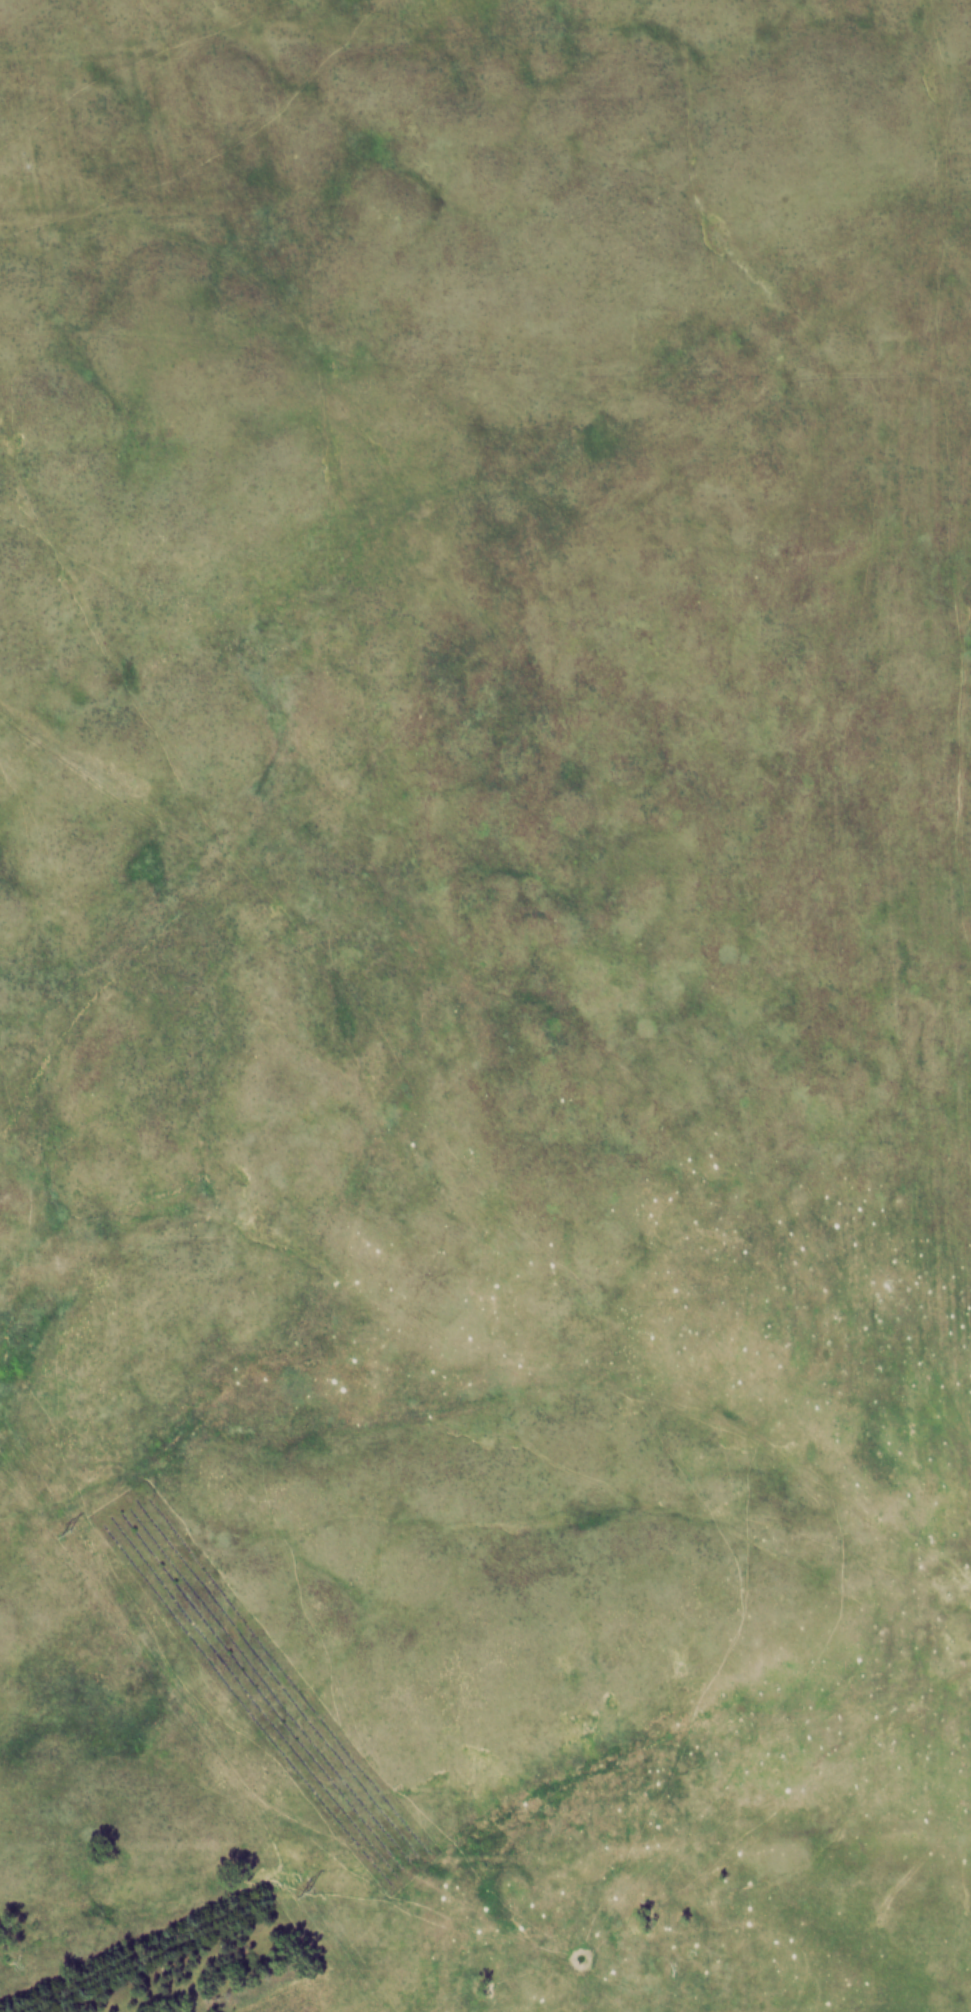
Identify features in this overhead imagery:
power tower: (69, 1531)
power tower: (308, 1892)

